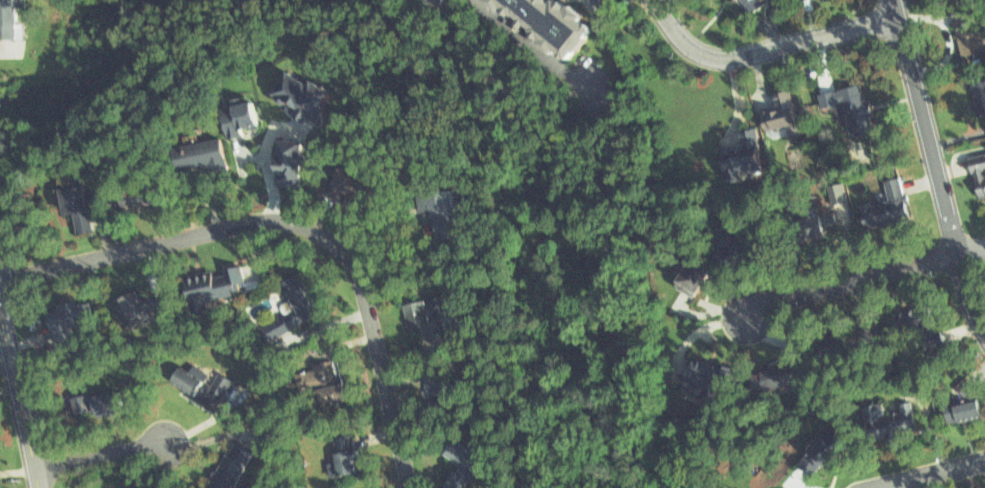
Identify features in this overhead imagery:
building: (438, 3)
building: (748, 4)
building: (7, 18)
building: (552, 23)
building: (969, 34)
road: (764, 50)
road: (540, 53)
building: (977, 91)
building: (302, 94)
building: (851, 106)
building: (783, 113)
building: (234, 116)
road: (927, 128)
building: (738, 152)
building: (287, 156)
building: (203, 160)
building: (977, 174)
building: (332, 181)
building: (348, 186)
building: (896, 189)
building: (139, 195)
building: (78, 204)
building: (428, 208)
building: (870, 217)
road: (296, 223)
building: (811, 225)
building: (745, 246)
building: (692, 275)
road: (864, 280)
building: (207, 289)
road: (966, 298)
building: (133, 301)
building: (284, 306)
building: (419, 306)
building: (917, 312)
building: (61, 314)
building: (838, 334)
building: (850, 342)
building: (431, 372)
building: (774, 373)
building: (694, 374)
building: (195, 381)
building: (314, 382)
building: (93, 396)
road: (20, 400)
building: (961, 400)
building: (109, 404)
building: (882, 419)
building: (821, 446)
building: (338, 450)
building: (456, 451)
road: (100, 455)
building: (221, 463)
building: (810, 464)
road: (941, 478)
building: (114, 485)
building: (129, 486)

